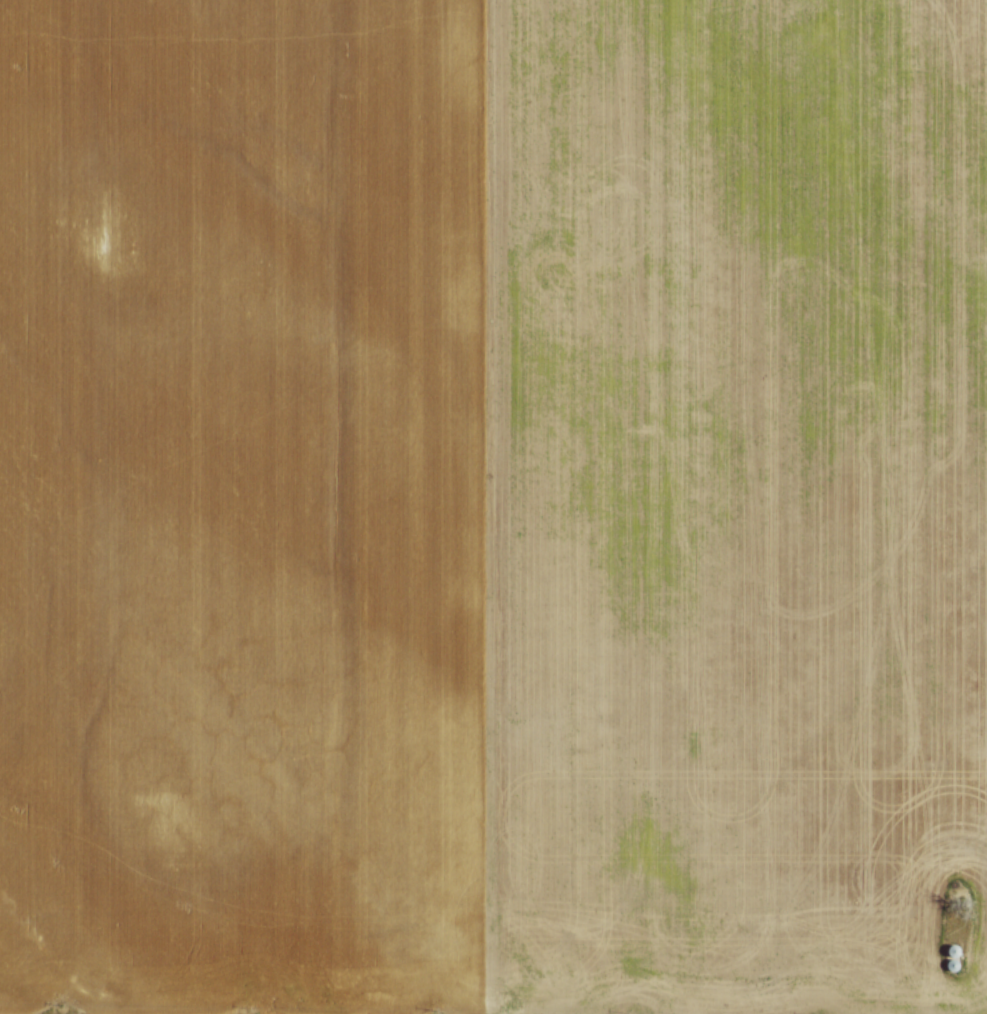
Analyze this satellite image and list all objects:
crop: (493, 506)
building: (949, 950)

